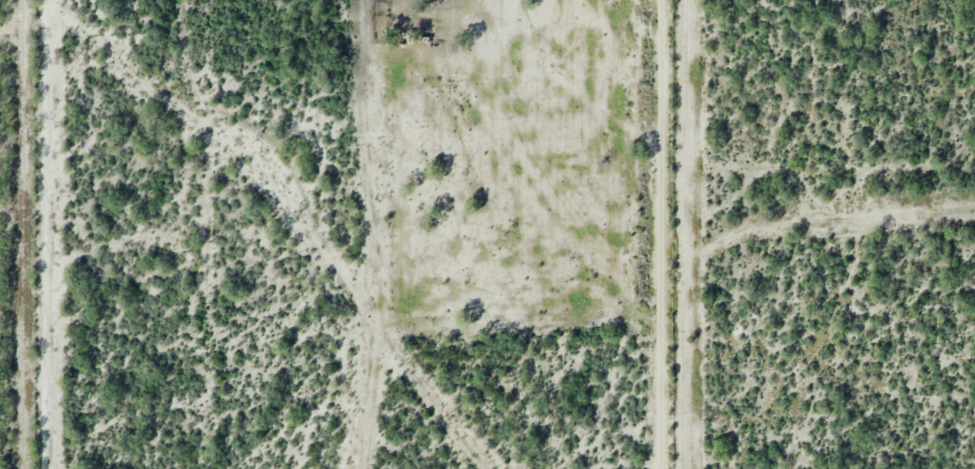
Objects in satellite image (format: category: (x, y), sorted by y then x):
road: (16, 234)
road: (646, 234)

